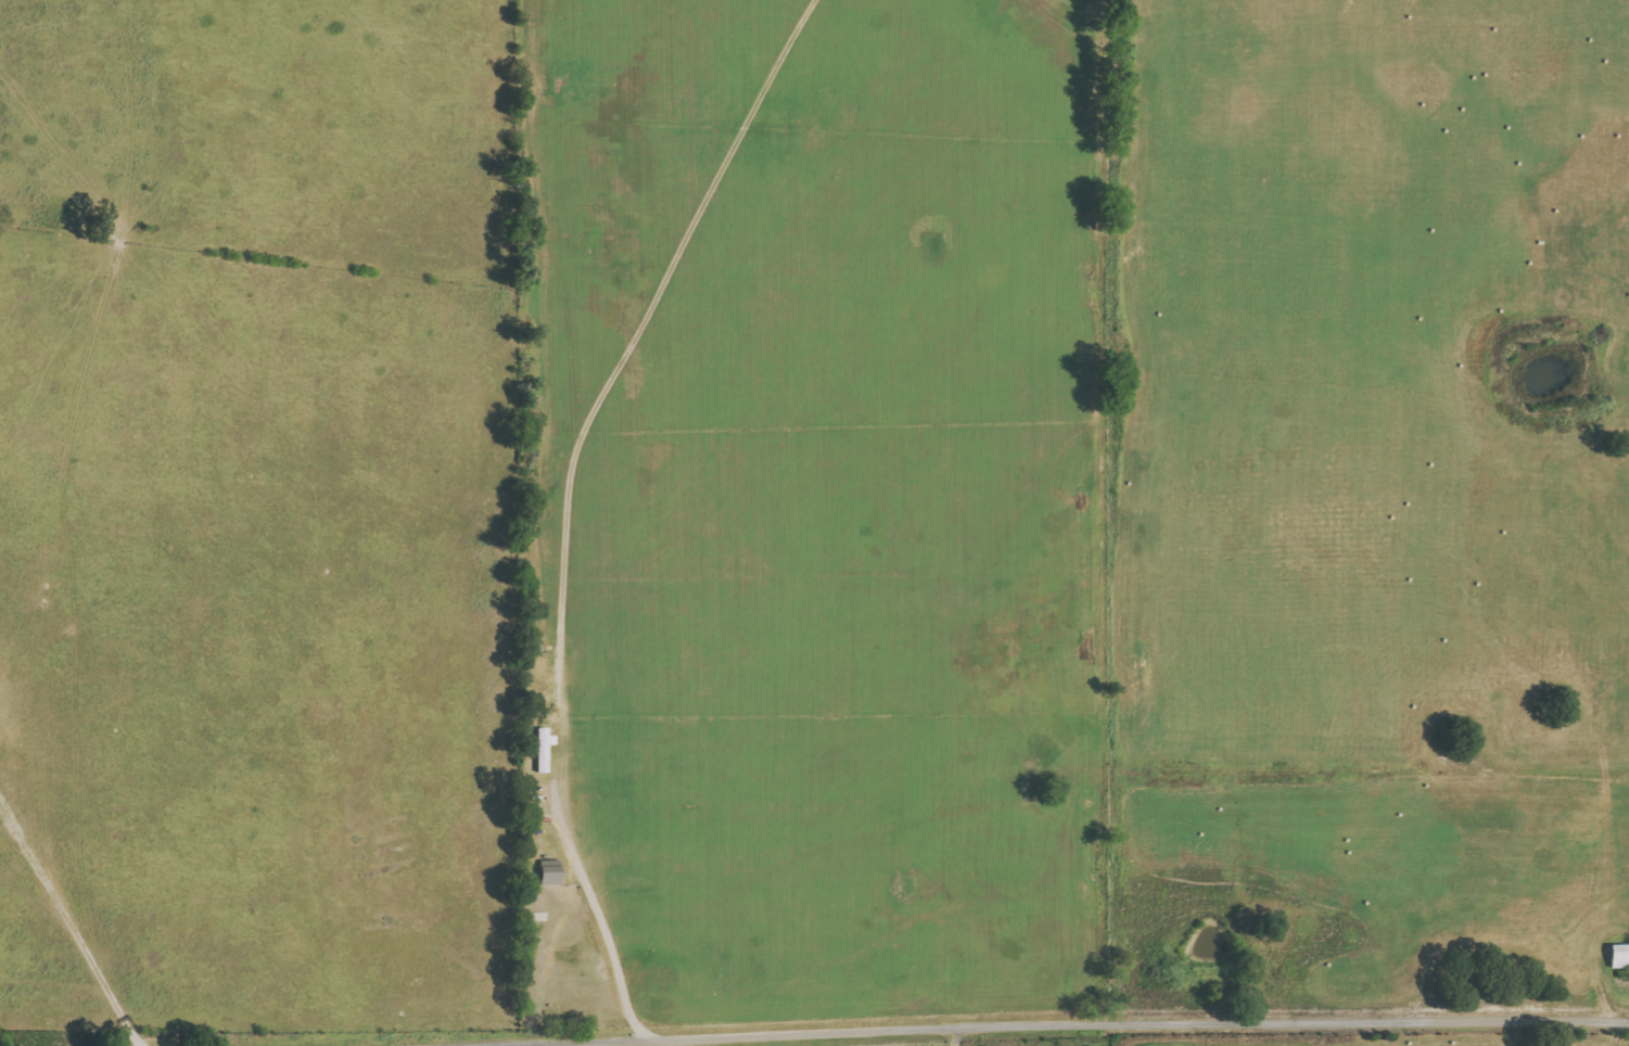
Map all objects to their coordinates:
road: (73, 910)
road: (603, 917)
building: (1619, 956)
road: (1074, 1030)
road: (964, 1038)

